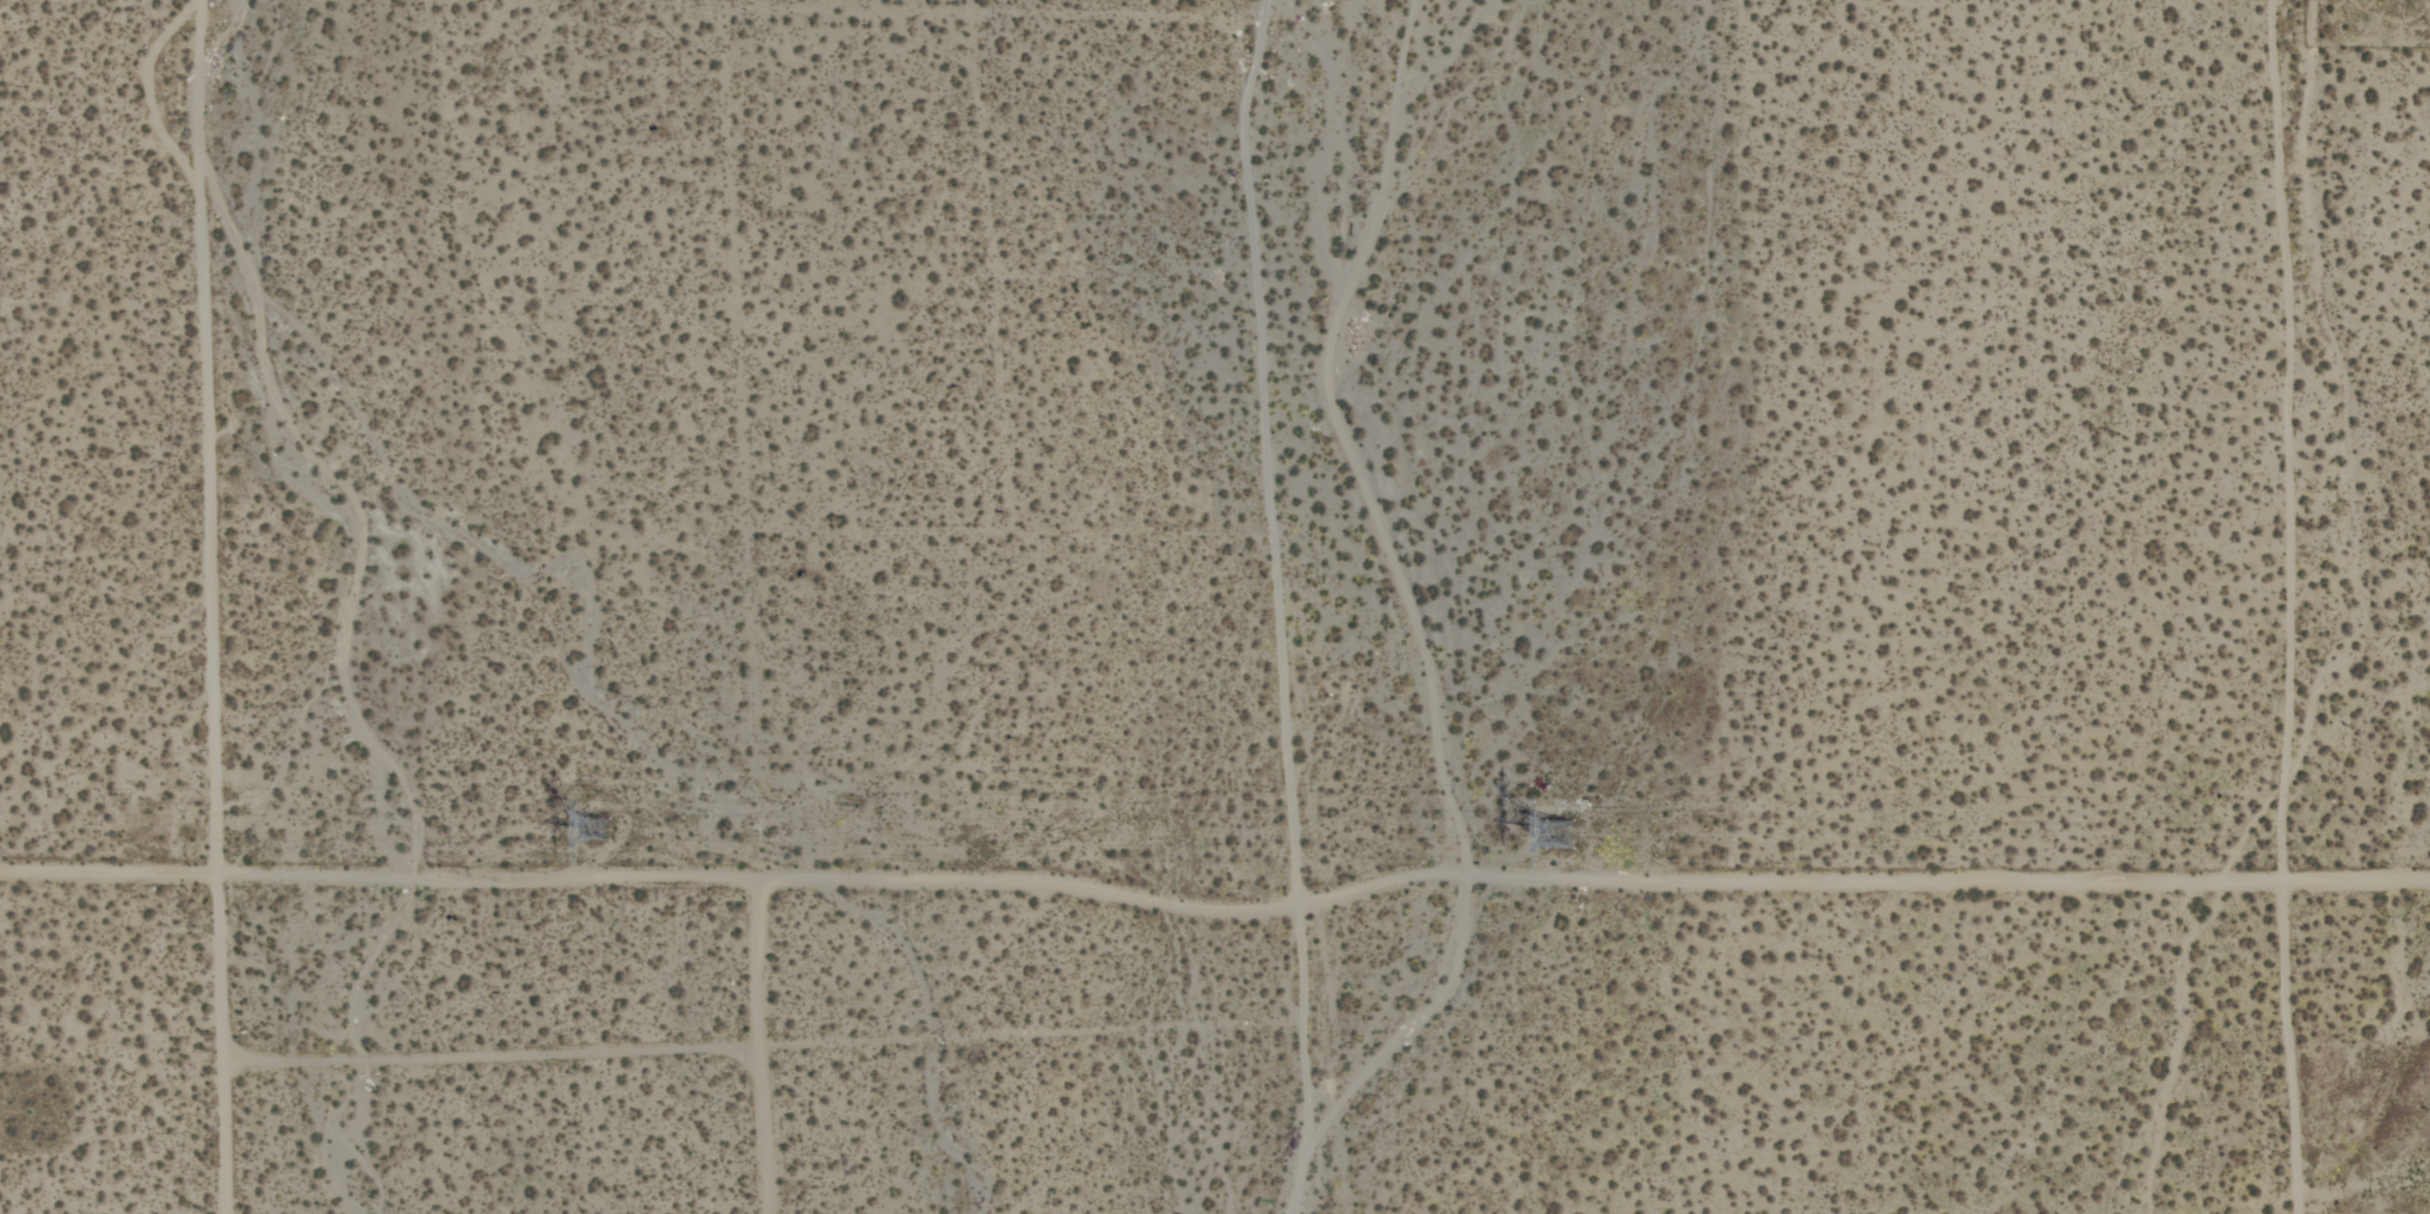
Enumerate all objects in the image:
road: (221, 606)
power tower: (592, 828)
power tower: (1575, 832)
road: (1215, 912)
road: (758, 1046)
road: (1303, 1060)

